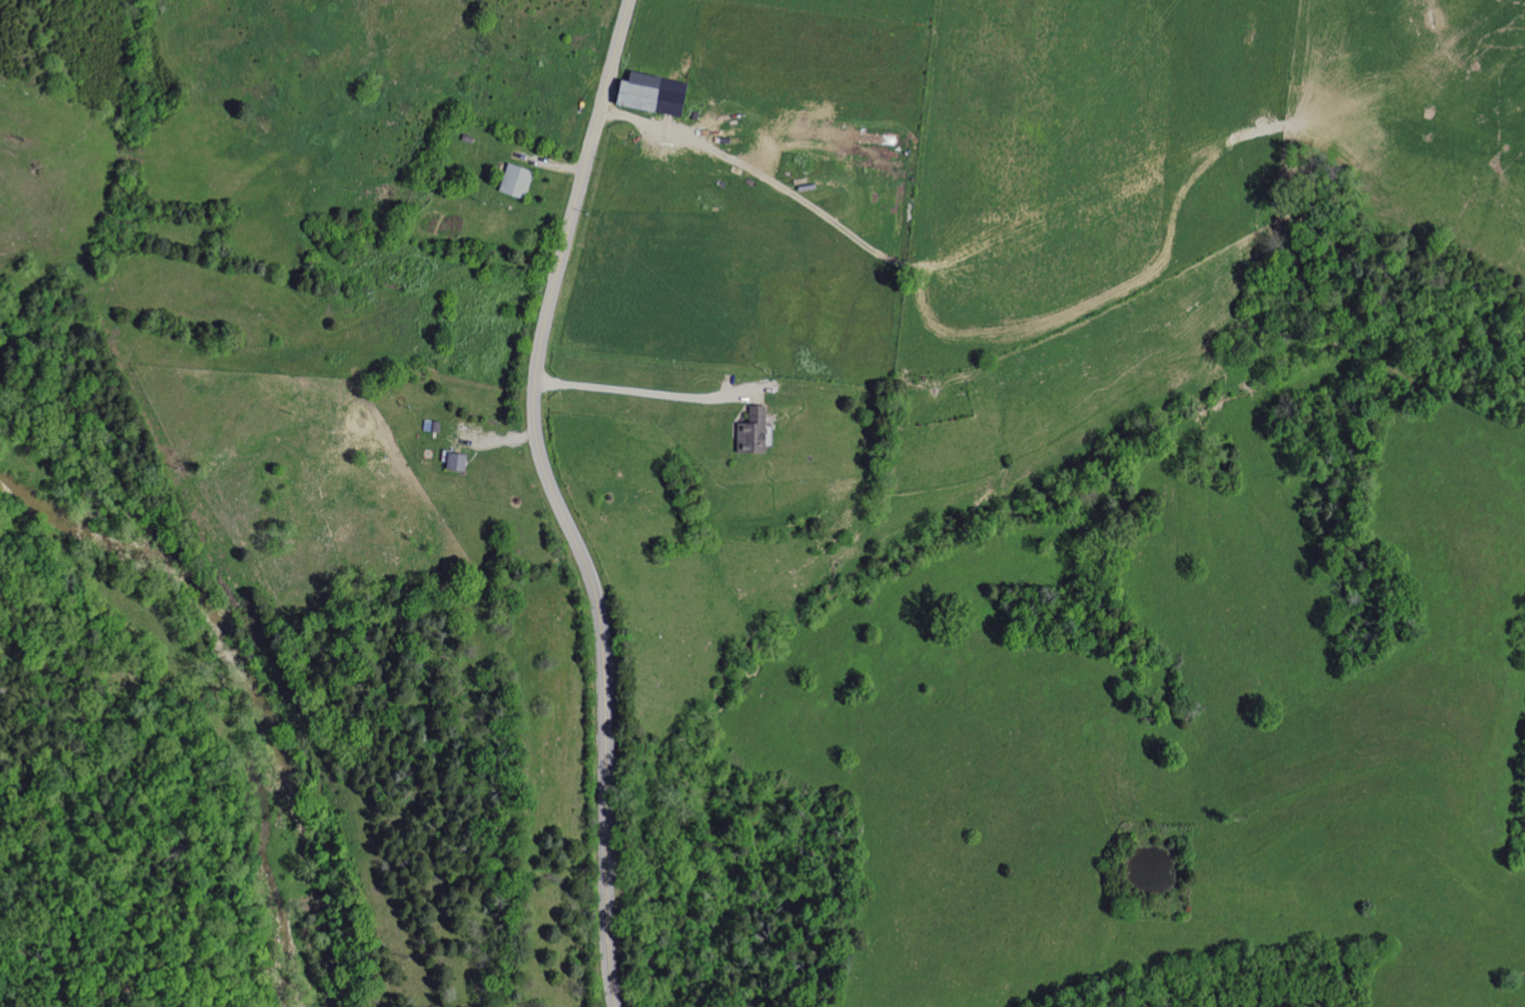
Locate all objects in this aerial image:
building: (644, 94)
road: (750, 170)
building: (513, 182)
road: (637, 381)
building: (748, 432)
road: (556, 500)

